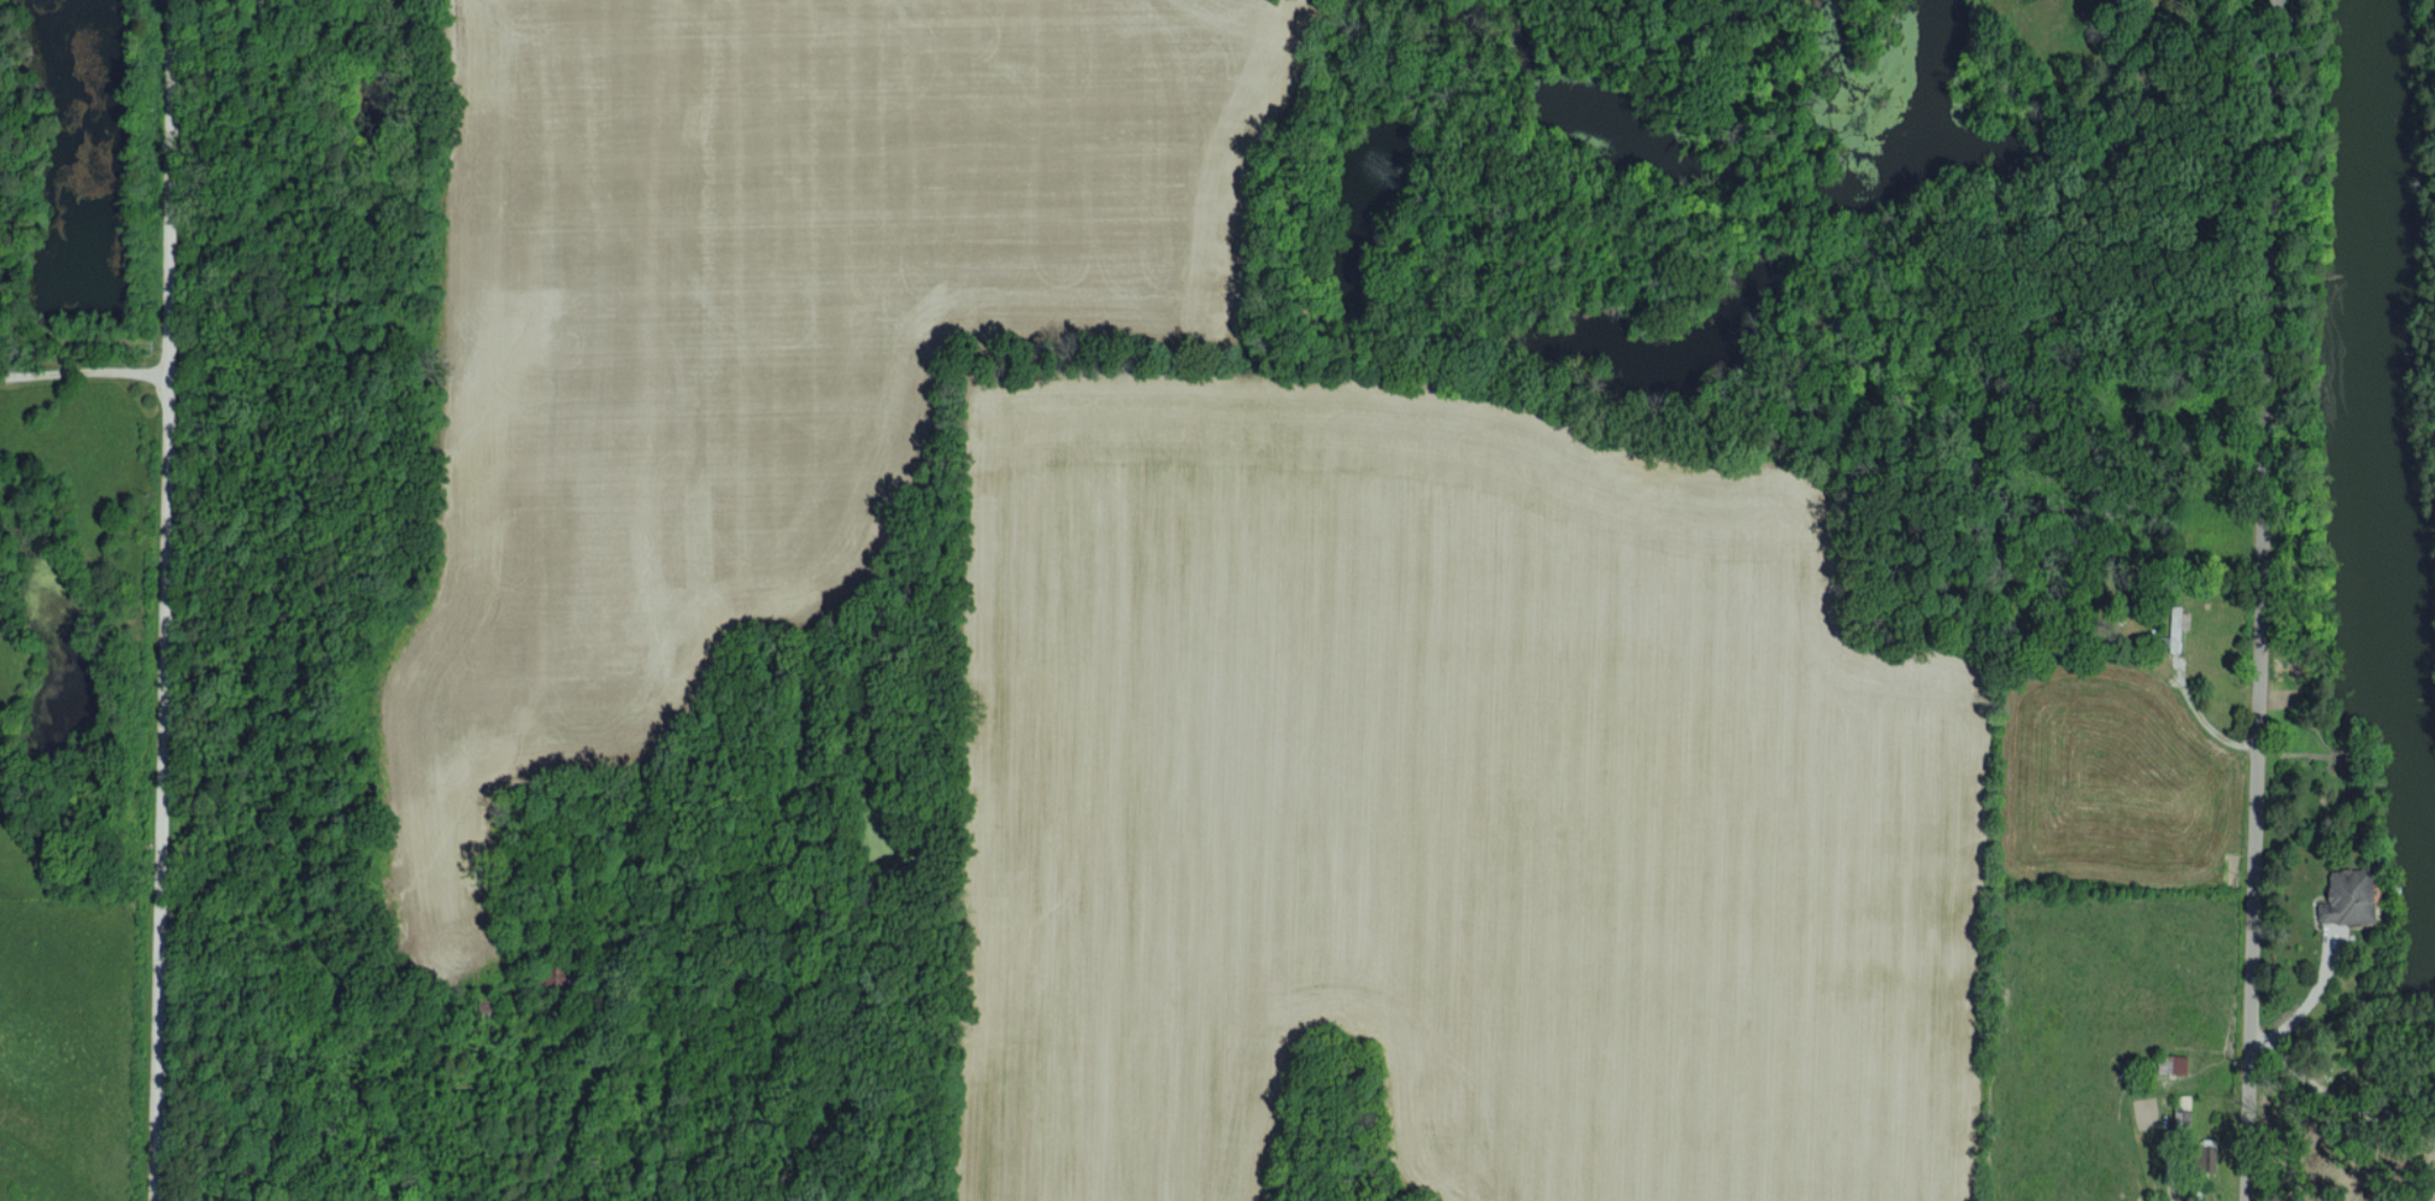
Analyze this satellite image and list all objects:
road: (2180, 1)
road: (83, 369)
road: (165, 600)
road: (2259, 600)
building: (2349, 896)
building: (2181, 1062)

